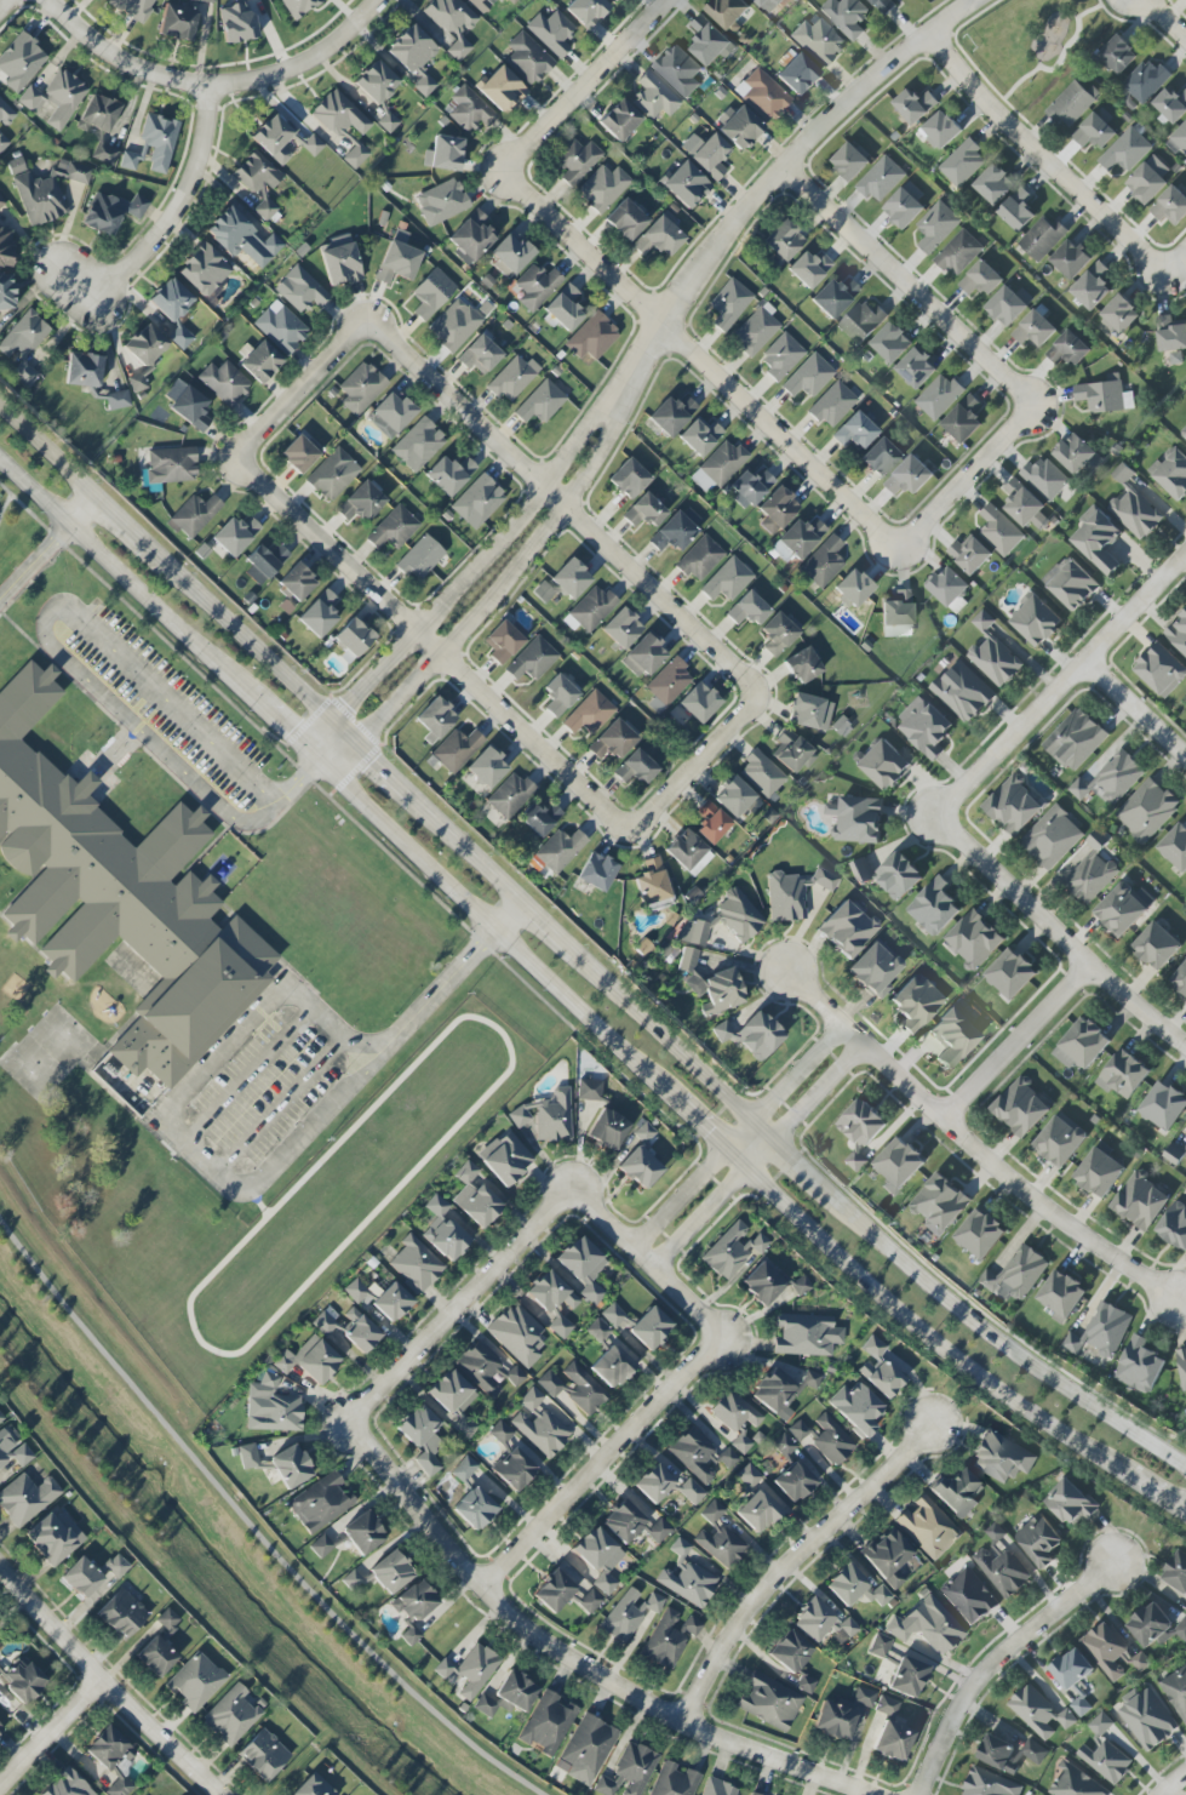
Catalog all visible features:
building: (205, 0)
building: (613, 0)
building: (512, 1)
building: (767, 4)
road: (5, 5)
building: (481, 5)
building: (298, 6)
building: (883, 6)
building: (133, 7)
building: (586, 11)
building: (727, 11)
building: (844, 15)
road: (1164, 19)
building: (236, 22)
building: (177, 23)
building: (551, 32)
building: (707, 41)
building: (818, 41)
building: (1118, 56)
building: (413, 57)
road: (122, 58)
building: (528, 58)
road: (1059, 58)
building: (21, 62)
road: (308, 63)
building: (678, 70)
building: (796, 74)
building: (376, 81)
building: (1145, 82)
road: (586, 84)
building: (502, 90)
building: (763, 93)
building: (654, 97)
building: (56, 98)
building: (1072, 103)
building: (1171, 104)
building: (915, 105)
building: (468, 110)
building: (5, 113)
building: (339, 115)
building: (388, 119)
building: (619, 120)
building: (739, 126)
building: (99, 127)
building: (941, 130)
building: (1094, 132)
building: (273, 138)
building: (159, 141)
building: (1179, 141)
building: (2, 143)
building: (313, 145)
building: (1125, 152)
building: (443, 154)
building: (355, 156)
building: (711, 156)
road: (1041, 156)
building: (130, 160)
building: (577, 161)
building: (849, 161)
building: (962, 164)
building: (16, 166)
building: (881, 179)
building: (1148, 179)
building: (259, 182)
road: (773, 183)
building: (686, 184)
building: (993, 184)
building: (602, 188)
building: (48, 190)
building: (1, 202)
building: (441, 202)
building: (904, 206)
building: (1170, 206)
building: (1016, 211)
building: (111, 212)
building: (625, 219)
road: (171, 221)
building: (936, 227)
building: (242, 238)
building: (471, 238)
building: (658, 238)
building: (1042, 238)
building: (784, 240)
building: (6, 245)
building: (958, 253)
building: (510, 255)
building: (1071, 259)
road: (1175, 262)
building: (397, 263)
building: (340, 264)
building: (808, 268)
building: (204, 270)
building: (981, 280)
building: (535, 286)
road: (906, 286)
building: (1092, 287)
building: (300, 290)
building: (6, 292)
building: (431, 293)
building: (833, 297)
building: (170, 299)
building: (728, 303)
building: (1008, 305)
building: (563, 308)
building: (1119, 315)
building: (863, 321)
building: (454, 325)
building: (281, 327)
building: (756, 330)
building: (1033, 331)
building: (1170, 333)
building: (179, 336)
building: (591, 337)
building: (890, 343)
building: (145, 345)
building: (24, 347)
building: (1068, 349)
building: (479, 355)
building: (781, 356)
building: (260, 361)
road: (699, 361)
building: (916, 368)
building: (84, 370)
building: (809, 376)
building: (512, 378)
building: (137, 383)
building: (224, 383)
building: (360, 388)
road: (304, 390)
building: (939, 396)
building: (1104, 396)
building: (118, 400)
building: (539, 402)
building: (185, 404)
building: (832, 405)
building: (391, 415)
building: (671, 415)
building: (963, 419)
building: (854, 431)
building: (1184, 434)
building: (700, 436)
building: (418, 445)
road: (46, 452)
building: (1073, 453)
building: (298, 455)
building: (880, 458)
building: (171, 465)
building: (720, 465)
building: (1170, 473)
building: (448, 474)
building: (1123, 474)
building: (332, 475)
building: (909, 476)
building: (628, 479)
road: (967, 479)
building: (1045, 479)
building: (750, 487)
road: (7, 498)
building: (477, 502)
building: (361, 503)
building: (1024, 505)
road: (569, 507)
road: (81, 510)
building: (777, 510)
building: (644, 511)
building: (194, 514)
building: (1135, 514)
road: (120, 522)
park: (12, 528)
building: (393, 528)
building: (999, 531)
building: (674, 533)
building: (235, 535)
building: (797, 539)
building: (1098, 539)
building: (969, 554)
building: (420, 559)
building: (700, 559)
road: (34, 560)
building: (264, 560)
building: (823, 562)
road: (124, 576)
building: (569, 578)
building: (727, 581)
building: (296, 583)
building: (1071, 583)
road: (464, 585)
building: (852, 589)
building: (949, 589)
building: (544, 591)
road: (489, 605)
building: (589, 610)
building: (747, 610)
building: (319, 613)
building: (896, 614)
building: (982, 621)
building: (1036, 621)
building: (621, 628)
road: (42, 631)
building: (1178, 633)
road: (159, 634)
building: (777, 634)
building: (353, 638)
building: (503, 642)
road: (252, 647)
road: (434, 647)
building: (643, 656)
building: (532, 659)
building: (995, 662)
building: (802, 665)
building: (1161, 670)
building: (669, 682)
road: (1061, 687)
building: (963, 692)
building: (558, 694)
building: (699, 703)
road: (1136, 709)
building: (810, 711)
building: (589, 714)
parking lot: (164, 716)
building: (435, 718)
building: (841, 726)
road: (285, 727)
building: (924, 727)
building: (1075, 739)
building: (612, 741)
building: (457, 749)
building: (792, 751)
building: (887, 765)
building: (487, 767)
building: (636, 768)
road: (697, 768)
road: (386, 773)
building: (762, 773)
road: (302, 777)
building: (1111, 778)
building: (509, 795)
building: (733, 796)
building: (1013, 806)
building: (1146, 810)
building: (539, 818)
building: (855, 819)
building: (711, 823)
building: (1052, 838)
building: (1175, 847)
building: (558, 850)
building: (688, 852)
building: (597, 871)
building: (889, 875)
building: (1090, 876)
building: (652, 882)
building: (793, 893)
building: (120, 897)
building: (934, 907)
building: (1121, 910)
road: (510, 915)
building: (738, 916)
building: (847, 928)
road: (499, 931)
building: (694, 932)
road: (1056, 933)
building: (974, 939)
building: (1156, 947)
road: (594, 968)
building: (875, 968)
building: (1010, 973)
building: (1180, 979)
building: (710, 987)
building: (916, 1002)
road: (325, 1023)
building: (752, 1035)
building: (952, 1037)
road: (1016, 1042)
building: (1081, 1045)
road: (251, 1073)
building: (1122, 1075)
parking lot: (256, 1087)
building: (589, 1090)
road: (282, 1104)
building: (1163, 1107)
building: (1020, 1108)
building: (546, 1117)
road: (317, 1119)
road: (703, 1124)
building: (608, 1130)
building: (860, 1131)
building: (642, 1132)
road: (737, 1136)
building: (1059, 1142)
road: (974, 1145)
road: (204, 1150)
building: (1185, 1153)
road: (757, 1156)
building: (505, 1159)
road: (797, 1161)
building: (899, 1162)
building: (640, 1167)
building: (1099, 1173)
building: (474, 1196)
building: (1140, 1201)
building: (940, 1204)
building: (1174, 1225)
building: (442, 1230)
building: (980, 1234)
building: (732, 1251)
road: (646, 1259)
building: (416, 1264)
building: (583, 1267)
building: (1015, 1275)
building: (763, 1282)
building: (801, 1286)
building: (355, 1291)
building: (550, 1293)
building: (1061, 1296)
road: (962, 1298)
building: (391, 1302)
road: (460, 1303)
building: (613, 1315)
building: (325, 1322)
road: (916, 1326)
building: (561, 1327)
building: (649, 1327)
building: (597, 1331)
building: (1101, 1331)
building: (517, 1334)
building: (806, 1334)
road: (993, 1338)
building: (309, 1360)
building: (614, 1365)
building: (1139, 1366)
building: (1182, 1366)
building: (878, 1368)
building: (550, 1384)
building: (584, 1390)
building: (780, 1391)
building: (271, 1407)
building: (858, 1408)
building: (734, 1412)
building: (539, 1425)
building: (798, 1430)
building: (500, 1433)
building: (422, 1437)
building: (831, 1441)
building: (741, 1444)
building: (784, 1446)
park: (1185, 1451)
building: (13, 1452)
building: (699, 1454)
building: (247, 1456)
building: (1001, 1458)
road: (600, 1460)
building: (291, 1467)
building: (464, 1469)
building: (514, 1469)
building: (749, 1476)
building: (795, 1481)
building: (654, 1484)
building: (691, 1491)
building: (957, 1492)
road: (1158, 1496)
building: (27, 1498)
building: (321, 1502)
building: (1070, 1503)
building: (474, 1509)
building: (760, 1510)
building: (712, 1511)
building: (624, 1521)
road: (248, 1527)
building: (928, 1527)
building: (659, 1531)
building: (362, 1533)
building: (995, 1533)
building: (53, 1539)
building: (1038, 1540)
building: (721, 1545)
building: (321, 1547)
building: (680, 1548)
building: (888, 1556)
building: (598, 1557)
road: (789, 1565)
building: (116, 1566)
building: (1005, 1571)
building: (391, 1572)
building: (1175, 1572)
building: (82, 1578)
building: (354, 1579)
building: (688, 1583)
building: (854, 1587)
building: (554, 1591)
building: (969, 1596)
building: (590, 1601)
building: (413, 1608)
building: (122, 1613)
building: (630, 1613)
building: (813, 1619)
building: (167, 1620)
building: (928, 1625)
building: (1151, 1625)
building: (689, 1627)
building: (1181, 1630)
building: (844, 1631)
building: (664, 1641)
building: (880, 1646)
building: (1105, 1650)
building: (156, 1657)
building: (793, 1658)
road: (567, 1660)
road: (992, 1660)
building: (1140, 1662)
building: (1071, 1669)
building: (470, 1670)
building: (0, 1674)
building: (907, 1677)
building: (23, 1681)
building: (195, 1681)
road: (103, 1685)
building: (1176, 1692)
building: (508, 1696)
building: (864, 1697)
building: (769, 1702)
building: (888, 1707)
building: (1081, 1707)
building: (1038, 1713)
building: (230, 1715)
building: (1147, 1717)
building: (835, 1720)
building: (548, 1723)
building: (1100, 1725)
building: (0, 1728)
road: (48, 1730)
building: (893, 1740)
building: (109, 1749)
building: (588, 1750)
building: (1010, 1754)
building: (263, 1755)
building: (1106, 1761)
building: (629, 1771)
building: (675, 1780)
building: (1075, 1783)
road: (1174, 1783)
building: (989, 1784)
building: (67, 1785)
building: (314, 1787)
building: (120, 1788)
building: (720, 1789)
building: (752, 1794)

